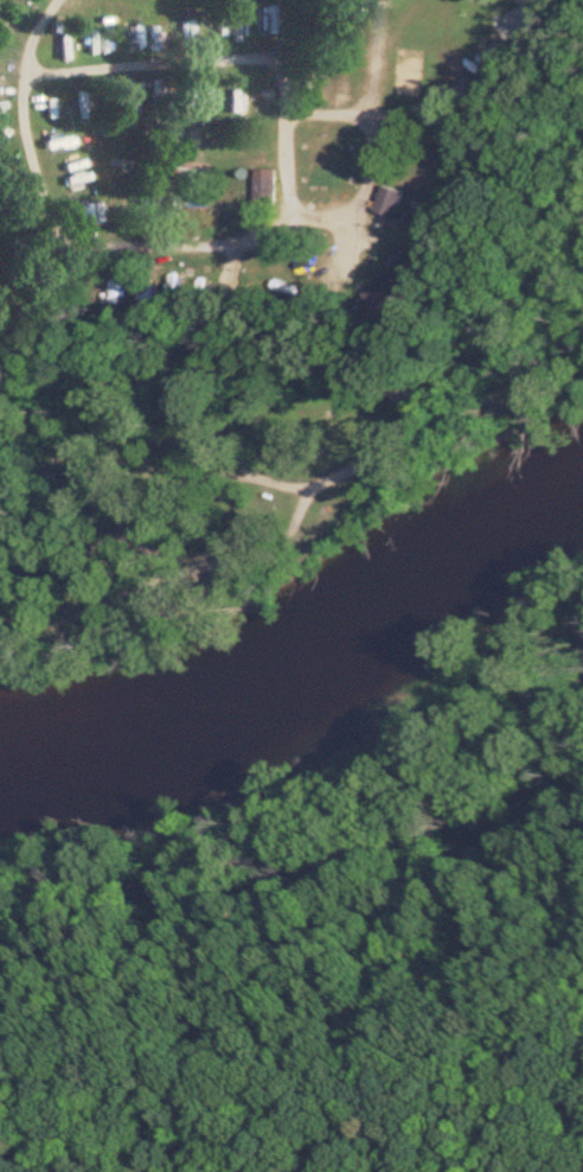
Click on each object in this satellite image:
building: (261, 18)
road: (26, 36)
building: (59, 45)
road: (376, 55)
road: (282, 110)
building: (185, 173)
building: (386, 203)
road: (351, 206)
building: (95, 218)
river: (310, 677)

